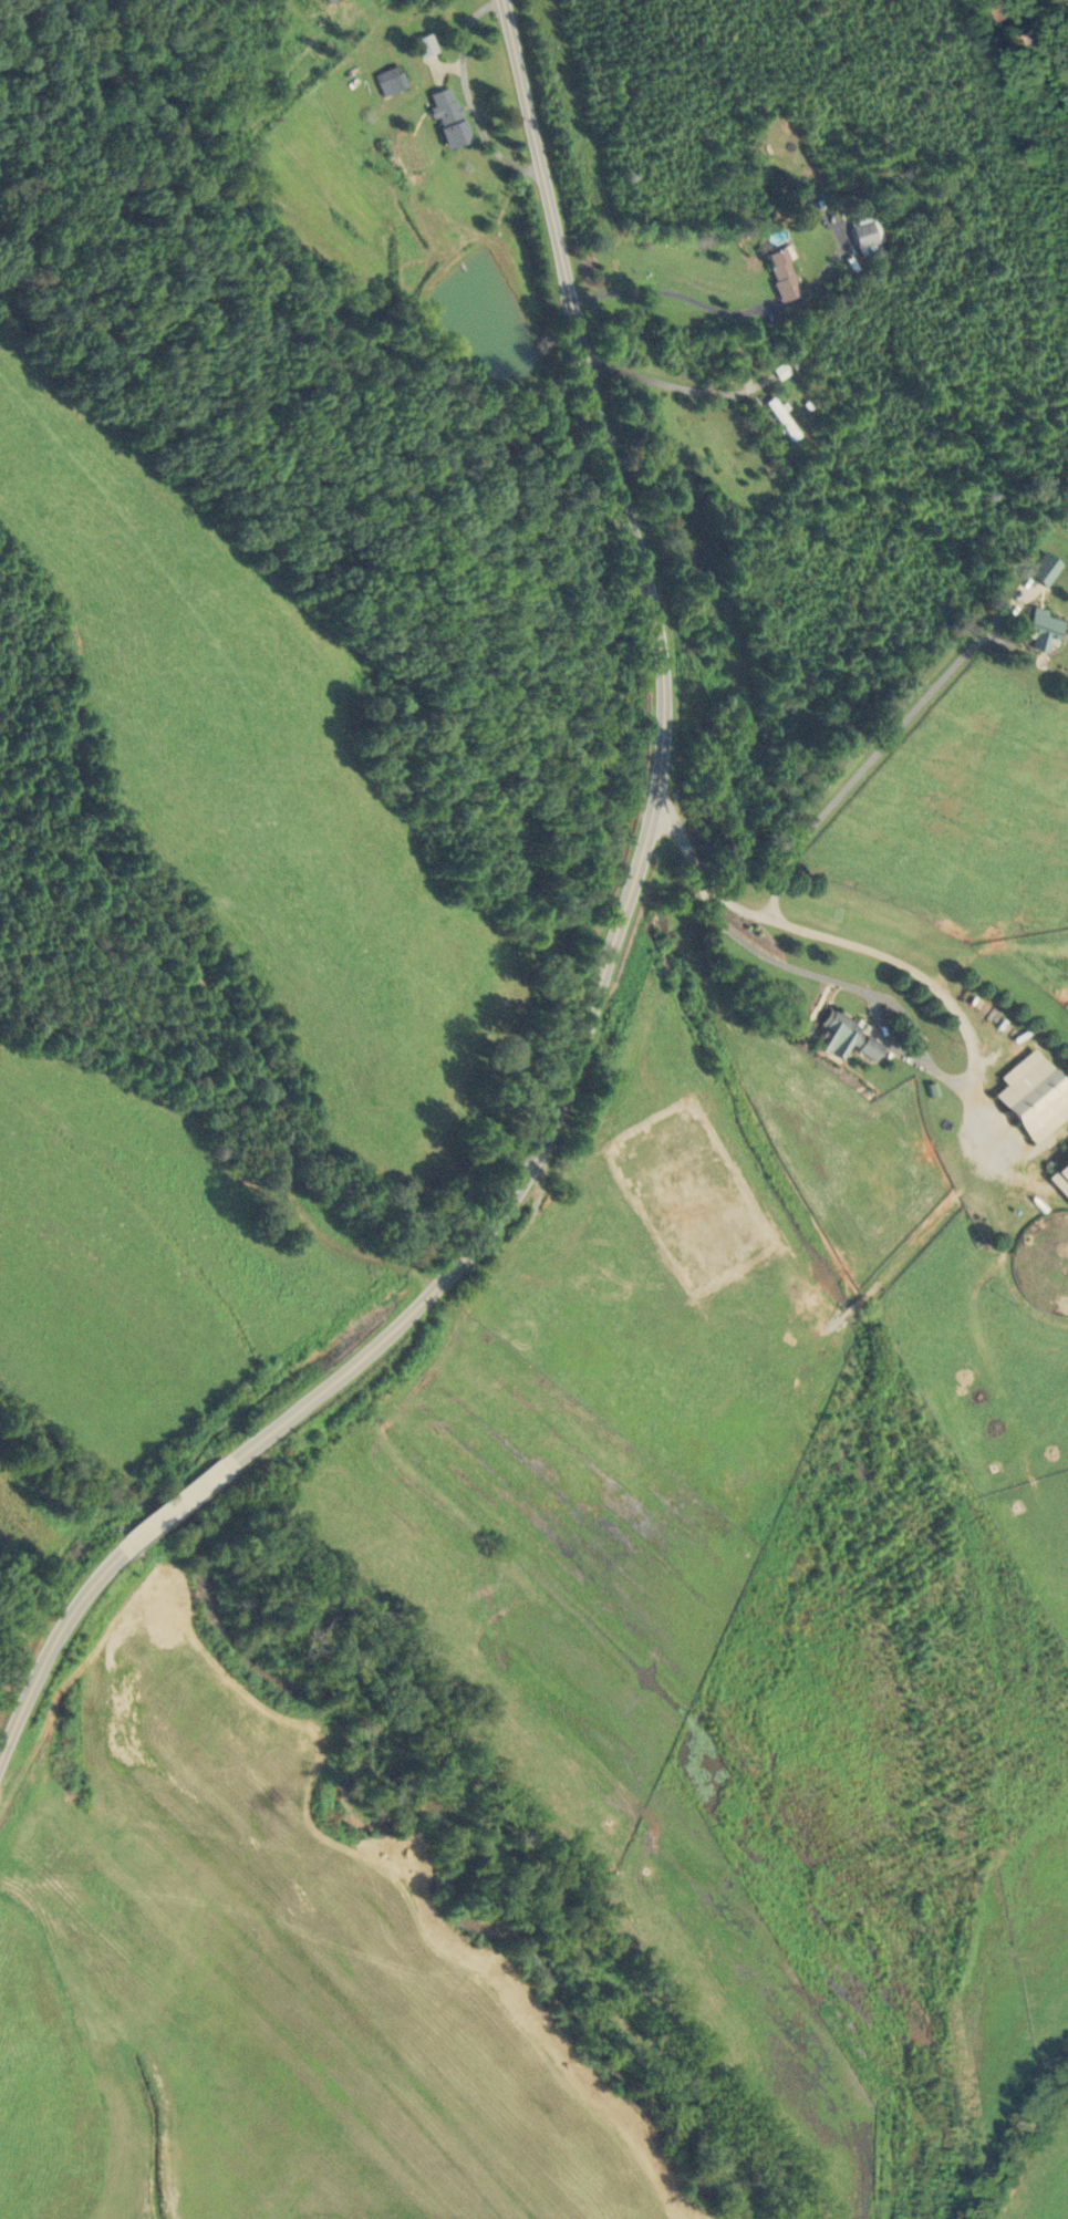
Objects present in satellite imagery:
building: (326, 1)
building: (424, 46)
building: (390, 81)
road: (468, 94)
building: (447, 118)
building: (865, 230)
building: (780, 273)
road: (673, 292)
road: (671, 383)
building: (780, 418)
building: (1044, 569)
building: (1040, 626)
road: (869, 763)
road: (659, 795)
road: (860, 946)
road: (836, 983)
building: (843, 1038)
building: (1031, 1096)
building: (1060, 1178)
road: (176, 1506)
road: (48, 1652)

